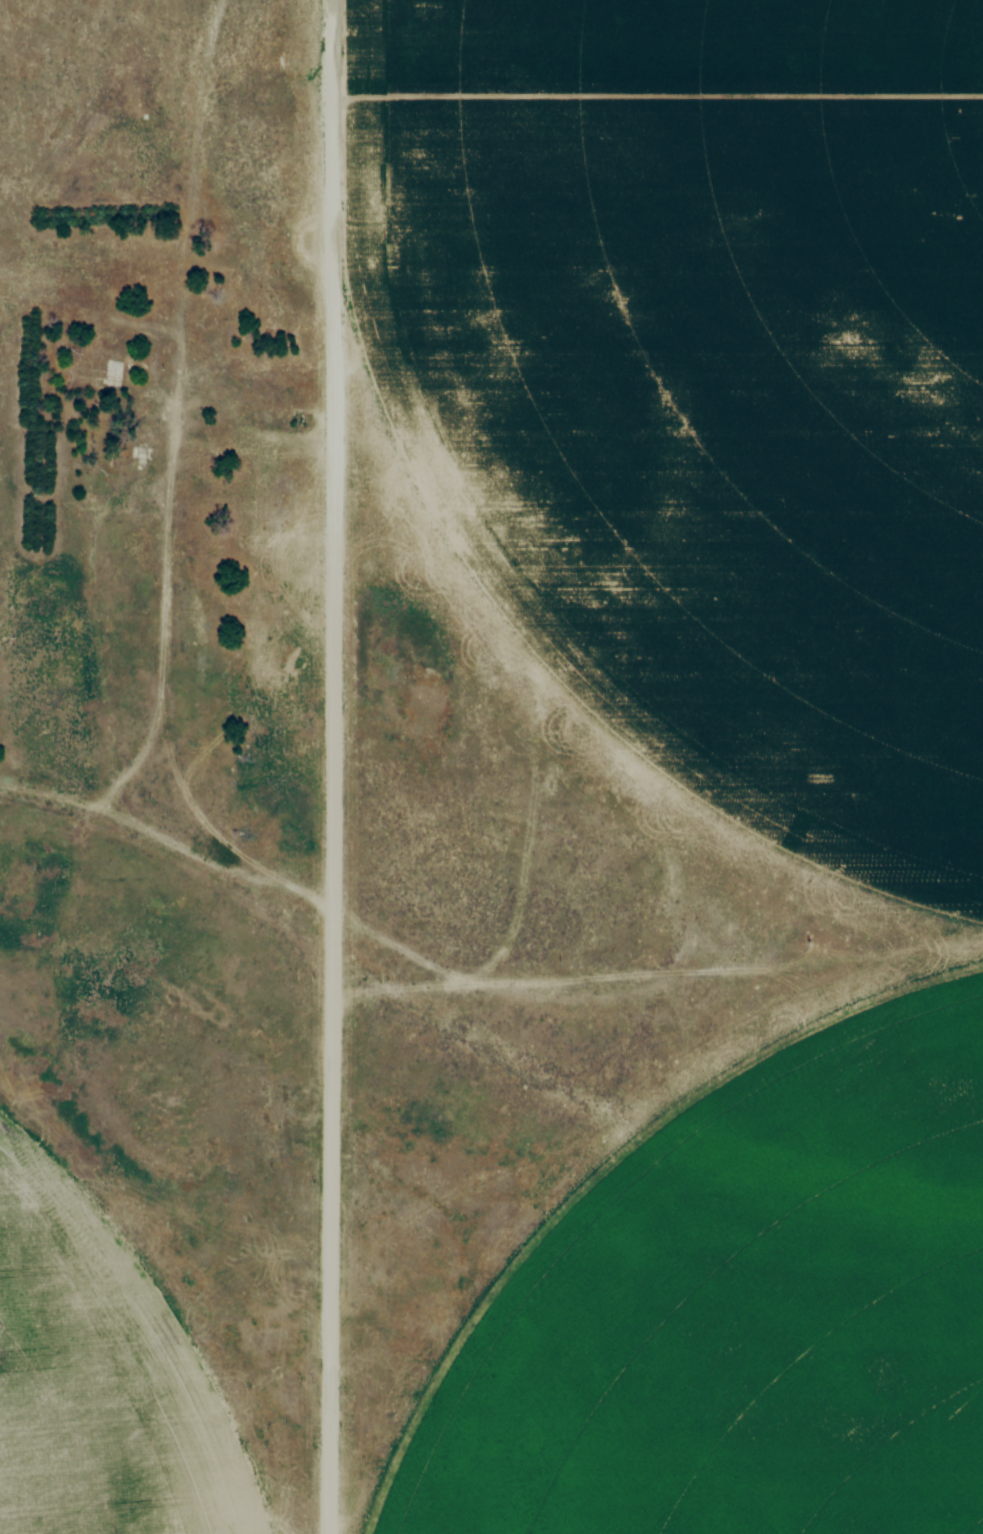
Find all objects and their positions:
building: (109, 361)
crop: (701, 382)
crop: (743, 1312)
crop: (99, 1377)

